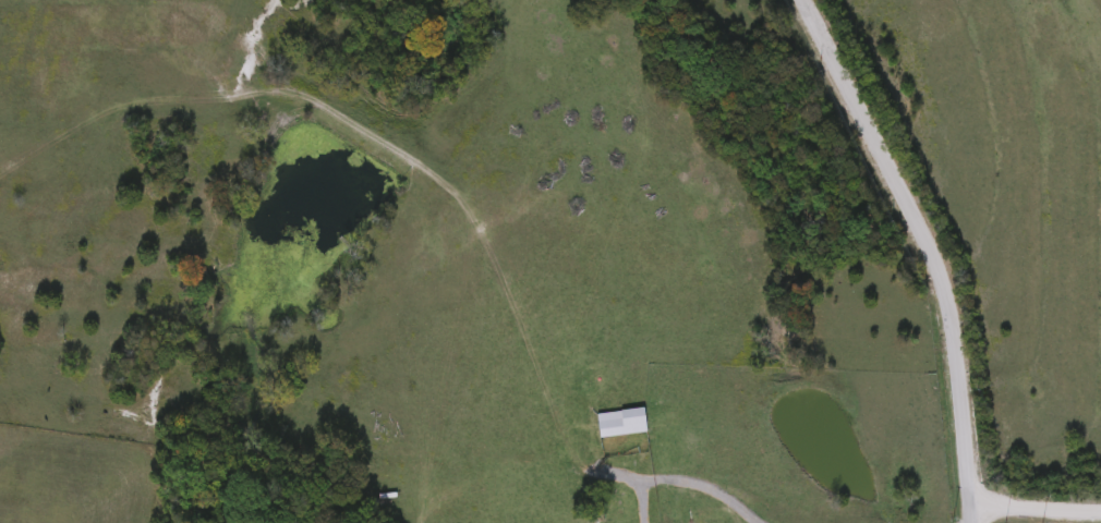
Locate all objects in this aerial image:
road: (932, 246)
building: (619, 423)
road: (685, 482)
road: (1032, 506)

